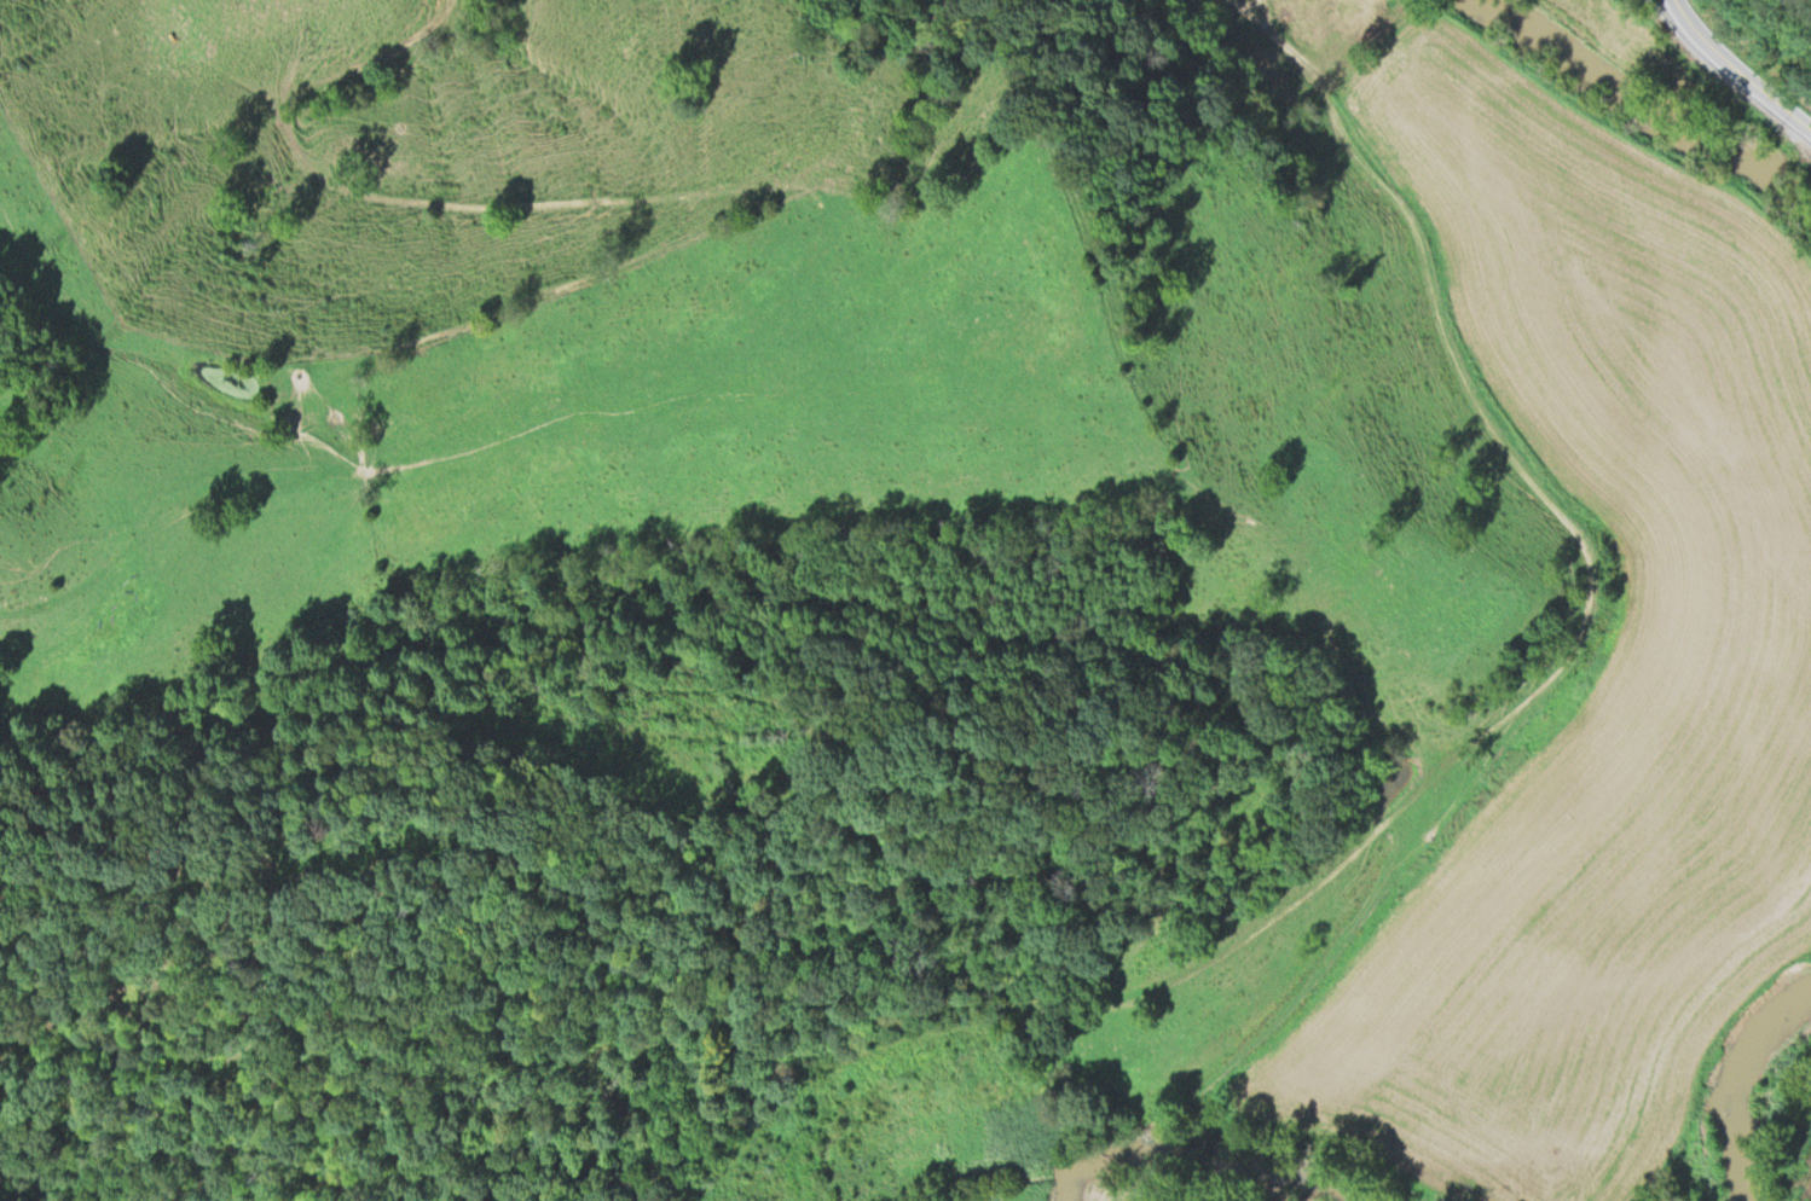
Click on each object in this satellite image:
road: (1256, 7)
road: (1737, 66)
road: (295, 88)
river: (1666, 92)
road: (741, 186)
crop: (1549, 689)
road: (1460, 754)
river: (1743, 1093)
river: (1244, 1142)

